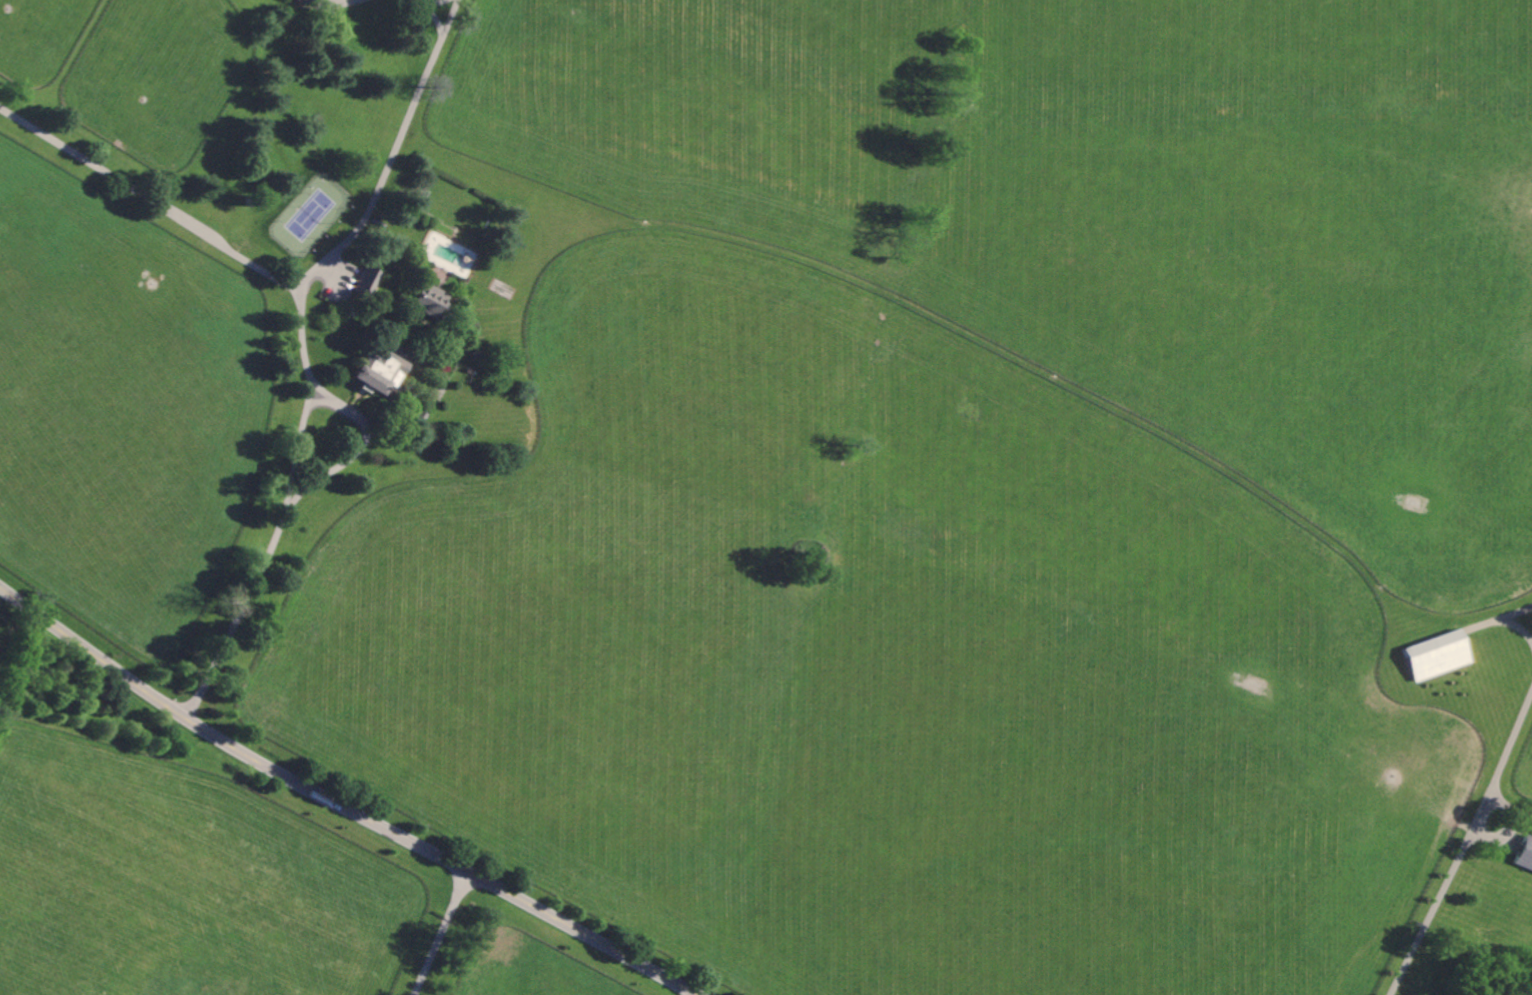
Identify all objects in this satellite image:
road: (349, 0)
building: (301, 1)
road: (429, 7)
road: (150, 198)
building: (368, 281)
building: (433, 301)
road: (303, 348)
building: (382, 371)
road: (321, 563)
road: (1517, 612)
road: (1502, 620)
building: (1439, 654)
road: (340, 804)
road: (1464, 846)
building: (1526, 853)
road: (1477, 876)
road: (442, 933)

